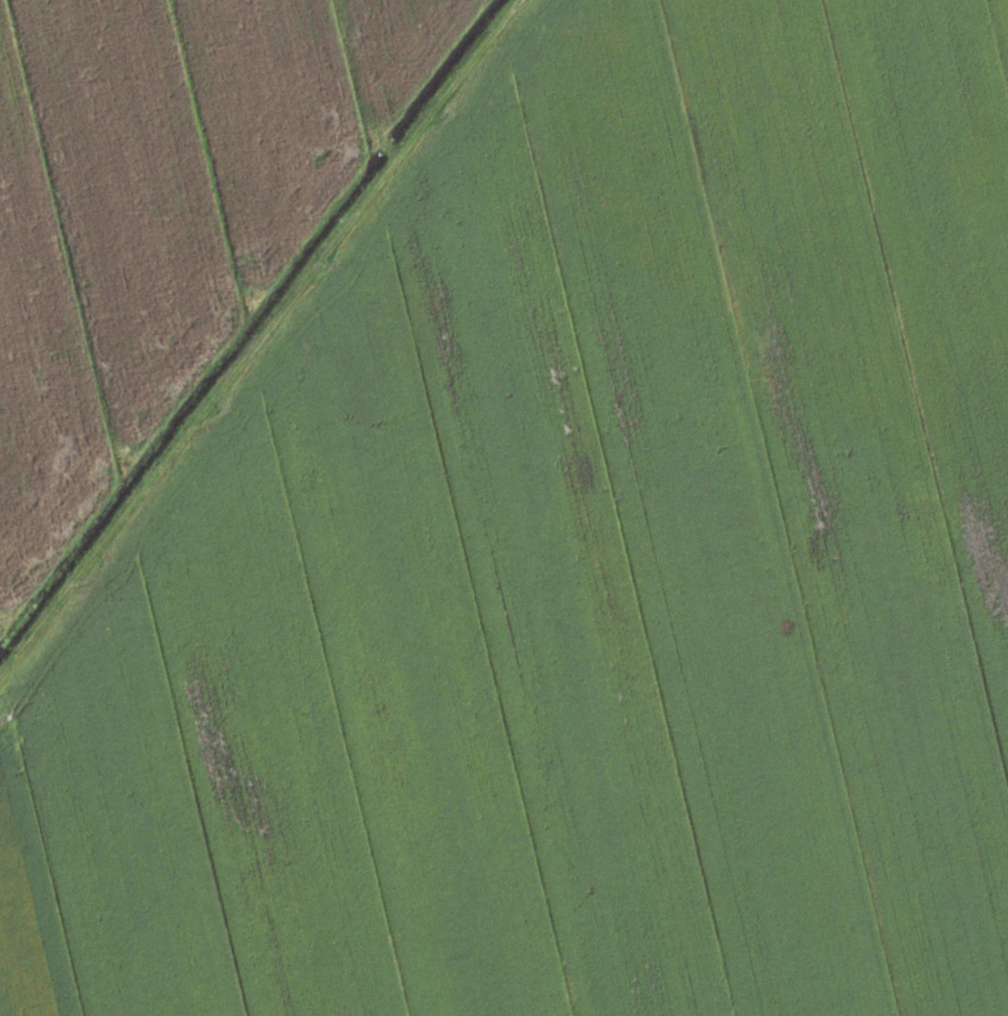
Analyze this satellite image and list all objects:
crop: (162, 211)
road: (257, 337)
crop: (574, 567)

